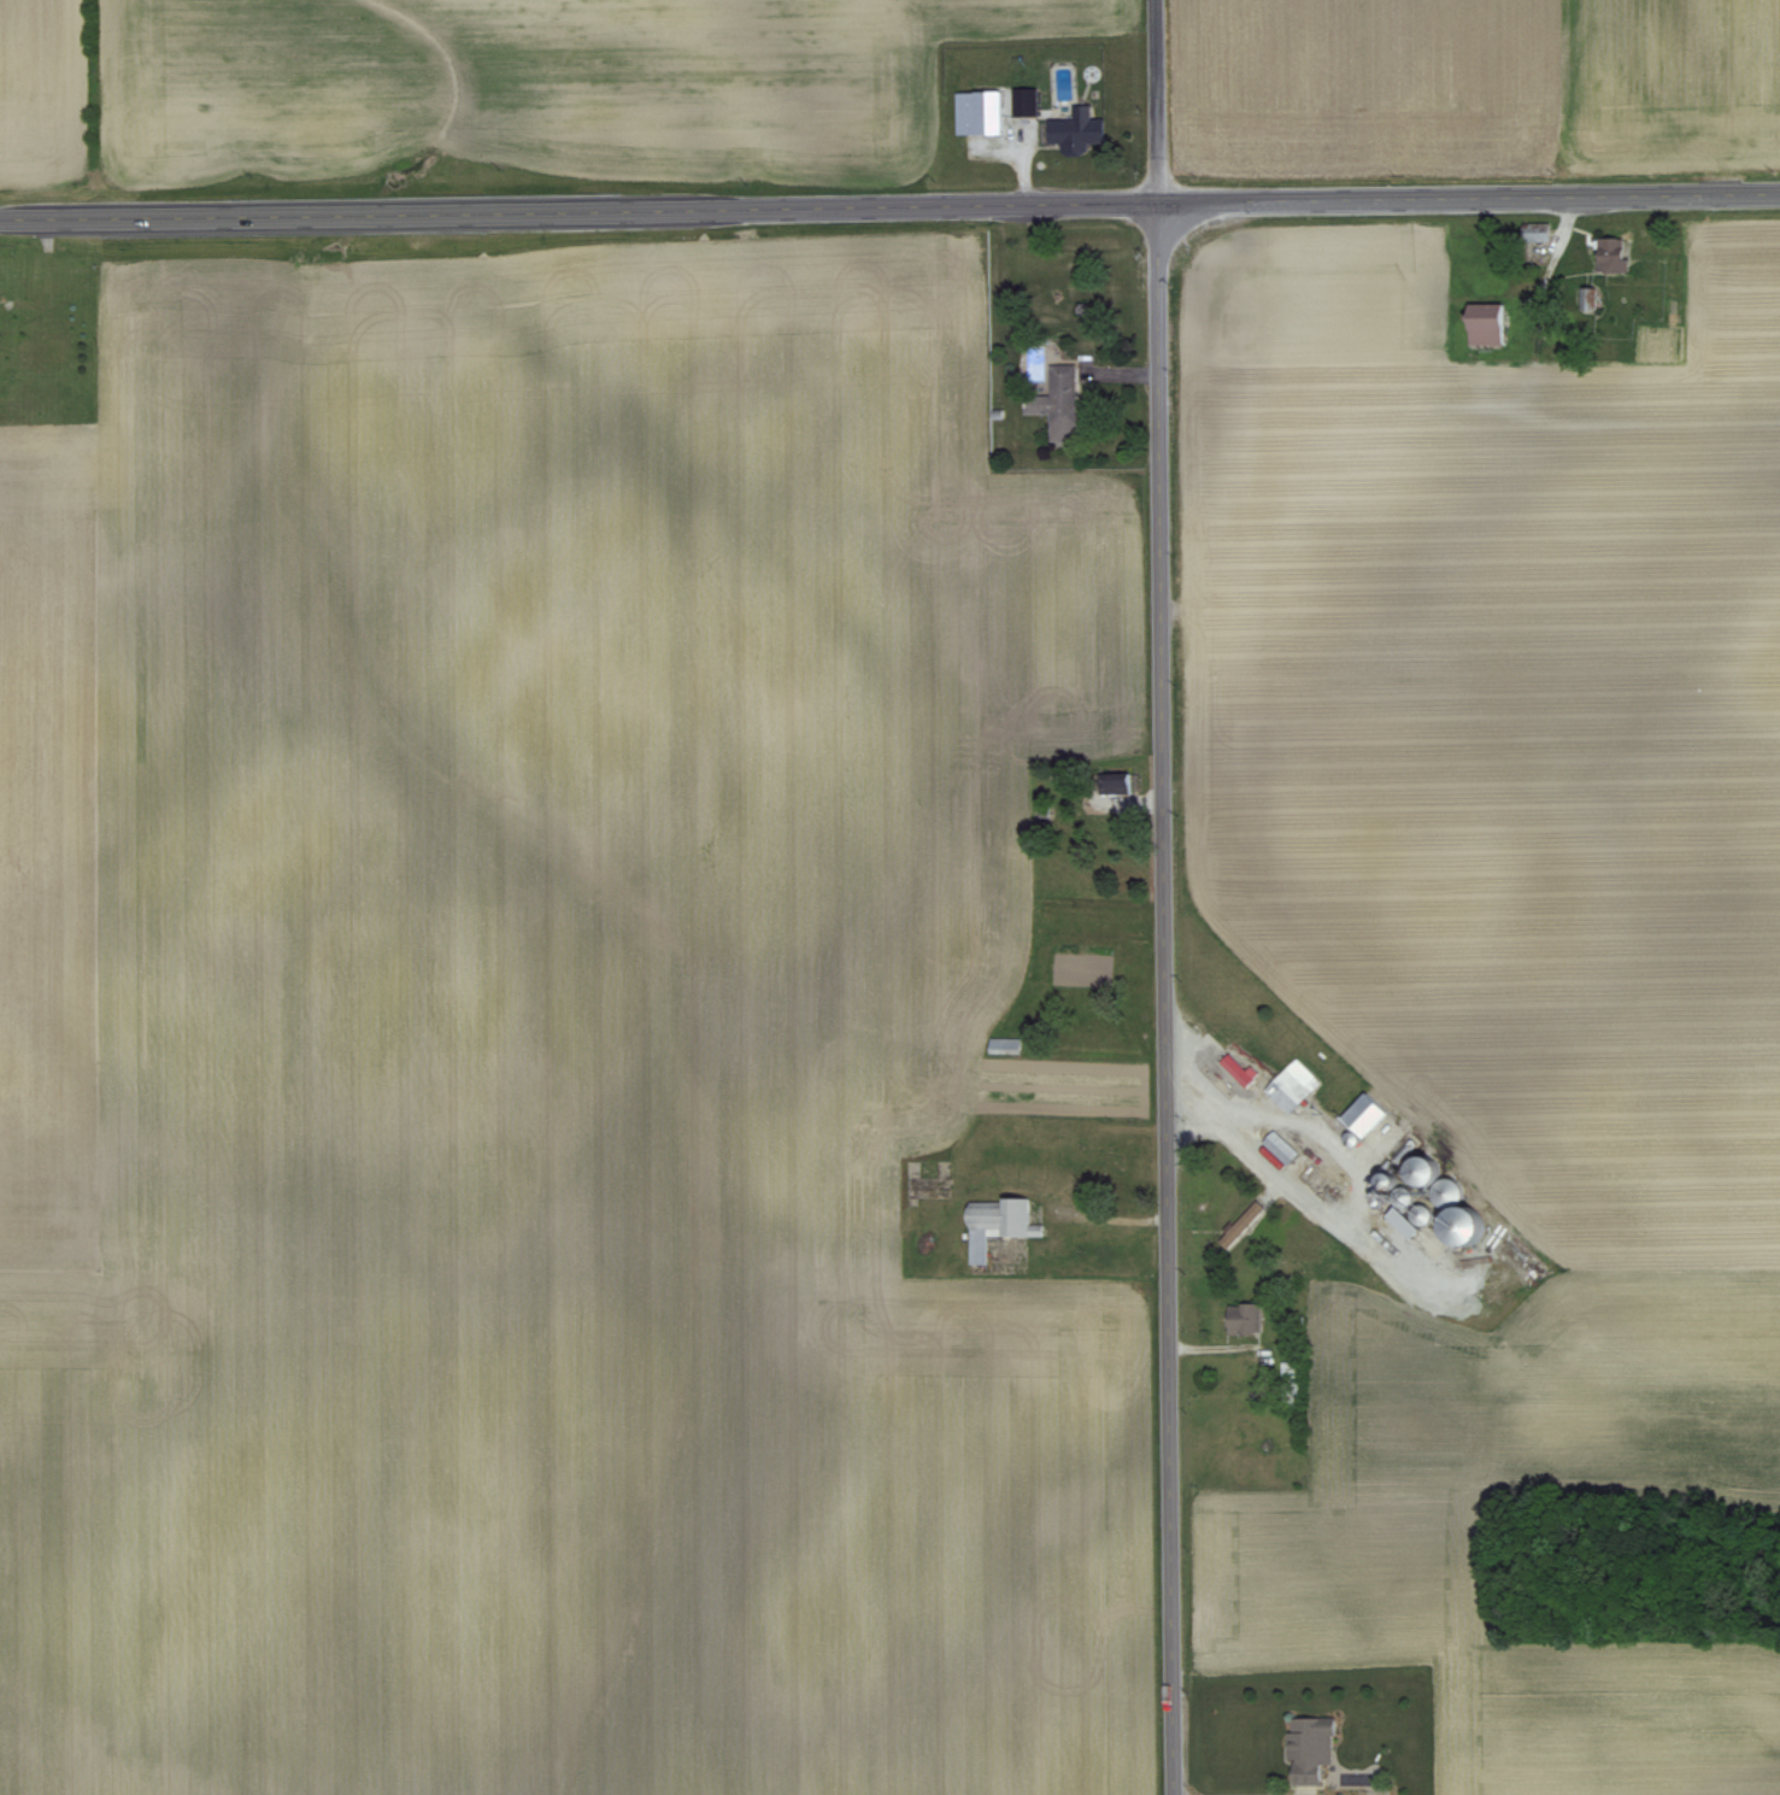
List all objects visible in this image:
building: (1024, 102)
building: (979, 113)
building: (1077, 129)
road: (889, 205)
building: (1537, 231)
building: (1612, 254)
building: (1485, 322)
building: (1055, 392)
road: (1164, 897)
building: (1005, 1045)
building: (1240, 1068)
building: (1293, 1086)
building: (1363, 1115)
building: (1281, 1148)
building: (1422, 1171)
building: (997, 1225)
building: (1461, 1225)
building: (1244, 1318)
building: (1293, 1390)
building: (1310, 1748)

